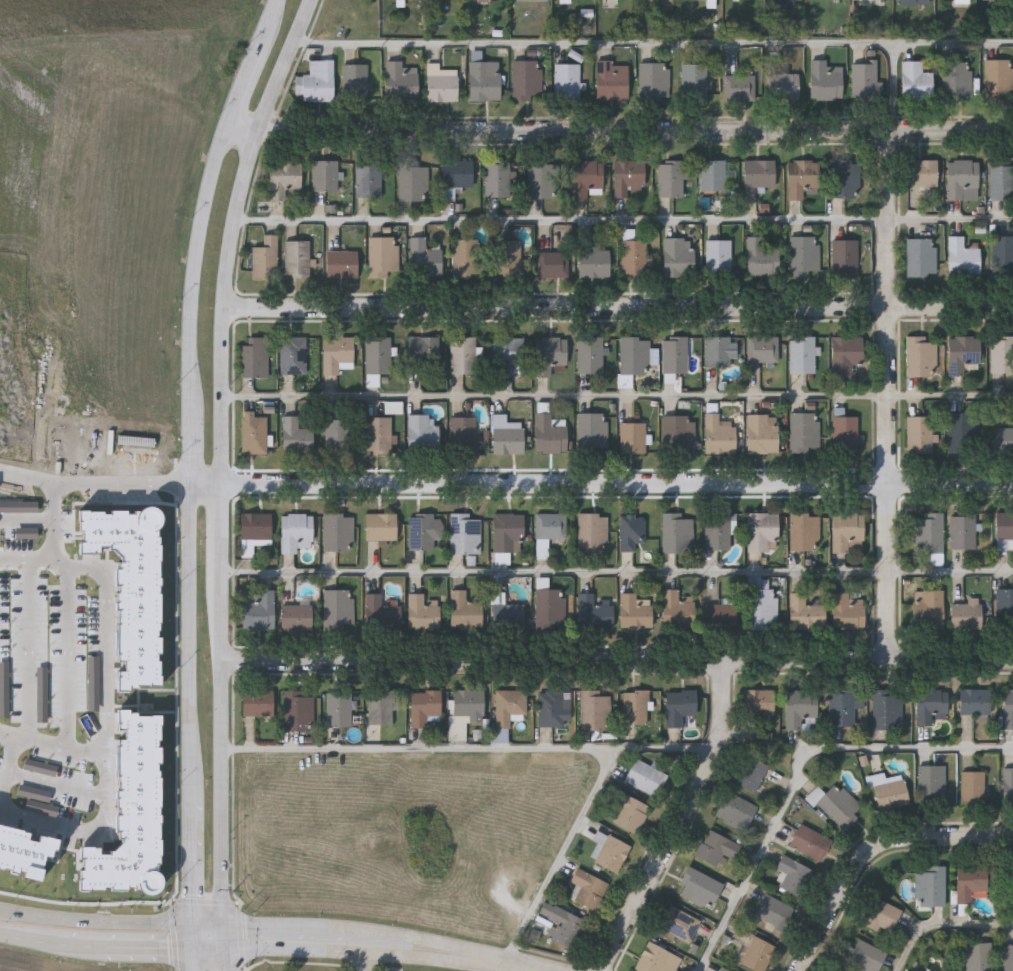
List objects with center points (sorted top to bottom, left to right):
building: (417, 0)
building: (961, 0)
building: (986, 0)
building: (483, 1)
building: (532, 1)
building: (914, 1)
building: (613, 2)
building: (660, 2)
building: (713, 4)
building: (788, 4)
road: (910, 42)
road: (596, 43)
building: (957, 78)
building: (999, 78)
building: (527, 79)
building: (612, 79)
building: (864, 79)
building: (319, 80)
building: (484, 80)
building: (654, 80)
building: (825, 80)
building: (915, 80)
building: (354, 81)
building: (400, 81)
building: (567, 81)
building: (694, 81)
building: (441, 83)
building: (739, 86)
building: (783, 86)
road: (622, 130)
building: (457, 172)
building: (759, 172)
building: (922, 172)
building: (325, 174)
building: (712, 174)
building: (629, 176)
building: (283, 177)
building: (585, 177)
building: (801, 177)
building: (497, 178)
building: (671, 178)
building: (845, 178)
building: (368, 179)
building: (541, 179)
building: (963, 179)
building: (1001, 180)
building: (414, 182)
road: (626, 218)
building: (561, 237)
road: (234, 238)
building: (921, 255)
building: (963, 255)
building: (1002, 255)
building: (381, 256)
building: (425, 256)
building: (634, 256)
building: (719, 256)
building: (805, 256)
building: (265, 257)
building: (464, 257)
building: (679, 257)
building: (761, 257)
building: (844, 257)
building: (297, 258)
building: (512, 258)
building: (343, 263)
building: (552, 263)
building: (593, 263)
road: (620, 310)
building: (763, 348)
building: (423, 350)
building: (717, 351)
building: (336, 353)
building: (802, 353)
building: (962, 353)
building: (1002, 353)
building: (463, 354)
building: (549, 354)
building: (590, 354)
building: (675, 354)
building: (846, 354)
building: (294, 355)
building: (378, 355)
building: (508, 355)
building: (635, 355)
building: (921, 356)
building: (255, 357)
road: (620, 394)
road: (890, 395)
building: (394, 408)
building: (593, 429)
building: (804, 430)
building: (677, 431)
building: (964, 431)
building: (254, 432)
building: (719, 432)
building: (763, 432)
building: (422, 433)
building: (919, 433)
building: (377, 434)
building: (462, 434)
building: (549, 434)
building: (845, 434)
building: (296, 435)
building: (507, 435)
building: (632, 437)
building: (338, 438)
building: (1001, 439)
building: (138, 445)
road: (195, 454)
road: (97, 482)
road: (619, 486)
road: (211, 489)
road: (57, 500)
building: (16, 509)
building: (381, 525)
building: (549, 526)
building: (1004, 527)
building: (846, 529)
building: (423, 530)
building: (593, 530)
building: (717, 530)
building: (805, 530)
building: (254, 531)
building: (338, 531)
building: (508, 531)
building: (631, 531)
building: (762, 531)
building: (964, 531)
building: (295, 532)
building: (678, 532)
building: (928, 532)
building: (465, 533)
road: (227, 538)
building: (542, 554)
road: (29, 560)
road: (620, 570)
building: (133, 588)
building: (1005, 605)
building: (550, 607)
building: (763, 607)
building: (338, 608)
building: (677, 608)
building: (929, 608)
building: (258, 609)
building: (382, 610)
building: (464, 610)
building: (635, 610)
building: (847, 611)
building: (422, 612)
building: (593, 612)
building: (805, 612)
building: (297, 614)
building: (507, 614)
building: (966, 614)
building: (721, 615)
road: (30, 649)
road: (619, 662)
road: (105, 678)
road: (67, 679)
building: (257, 701)
building: (758, 701)
building: (975, 701)
building: (930, 703)
building: (381, 706)
building: (424, 706)
building: (635, 706)
building: (679, 706)
building: (339, 707)
building: (509, 707)
building: (554, 707)
building: (800, 707)
building: (842, 707)
building: (1008, 707)
building: (887, 708)
building: (465, 709)
building: (597, 709)
building: (298, 710)
road: (2, 731)
building: (764, 738)
road: (80, 748)
road: (474, 748)
road: (227, 755)
road: (799, 768)
building: (751, 774)
building: (646, 777)
building: (932, 782)
building: (1008, 785)
building: (973, 786)
building: (889, 791)
building: (839, 805)
building: (736, 811)
building: (132, 812)
building: (630, 812)
road: (684, 822)
road: (51, 824)
building: (806, 840)
building: (716, 847)
road: (875, 850)
building: (25, 851)
building: (611, 852)
road: (562, 854)
building: (793, 874)
building: (970, 883)
building: (930, 884)
building: (1007, 885)
building: (588, 888)
building: (700, 888)
building: (774, 910)
building: (880, 914)
road: (99, 922)
traffic signals: (200, 923)
road: (213, 923)
building: (679, 923)
traffic signals: (228, 924)
building: (563, 924)
road: (942, 924)
road: (387, 934)
road: (200, 936)
road: (228, 936)
road: (99, 947)
traffic signals: (200, 949)
road: (214, 949)
traffic signals: (229, 949)
road: (371, 953)
building: (757, 953)
building: (863, 955)
building: (977, 956)
building: (1008, 957)
building: (657, 959)
road: (200, 960)
road: (230, 960)
road: (366, 962)
building: (723, 968)

